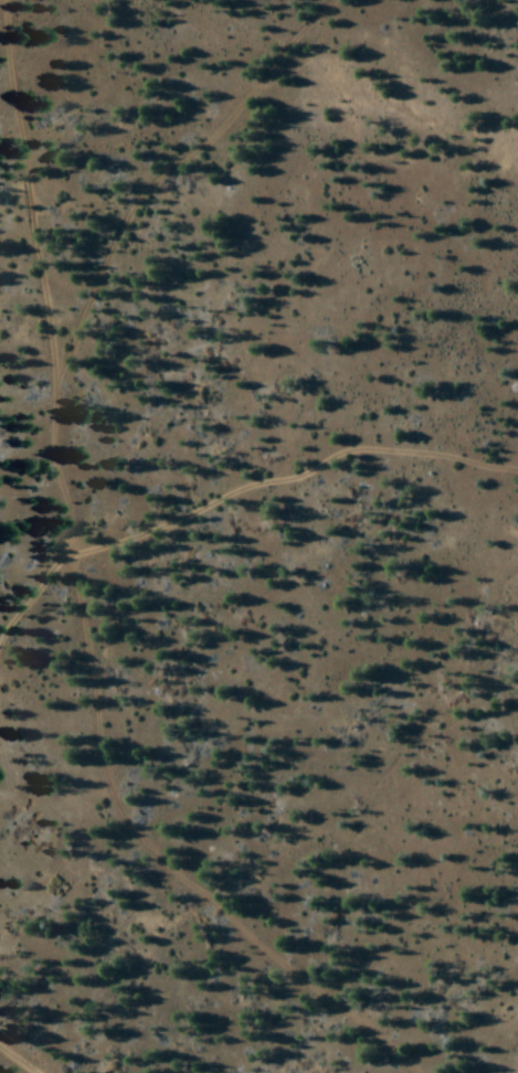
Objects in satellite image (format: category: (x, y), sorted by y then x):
road: (49, 331)
road: (25, 1054)

